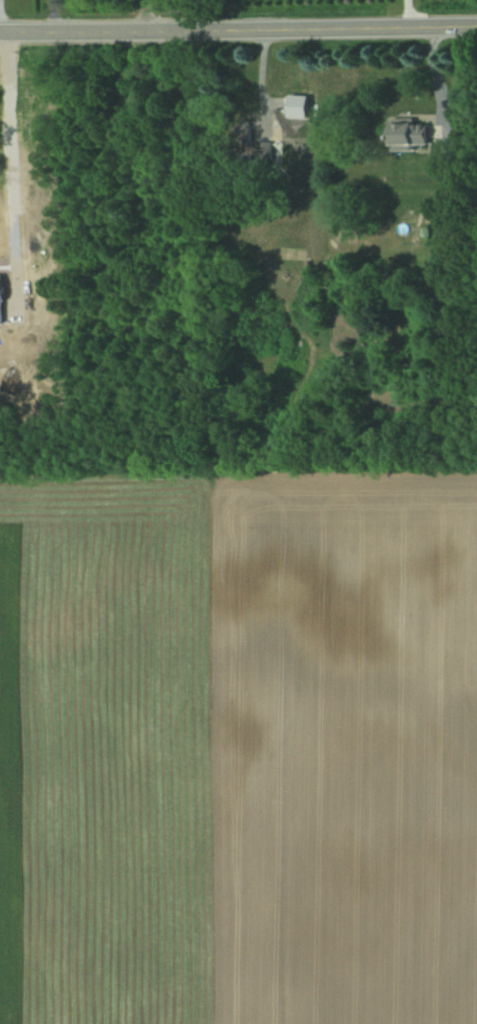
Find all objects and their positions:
road: (404, 12)
road: (238, 26)
road: (432, 78)
building: (240, 132)
building: (406, 132)
building: (445, 224)

